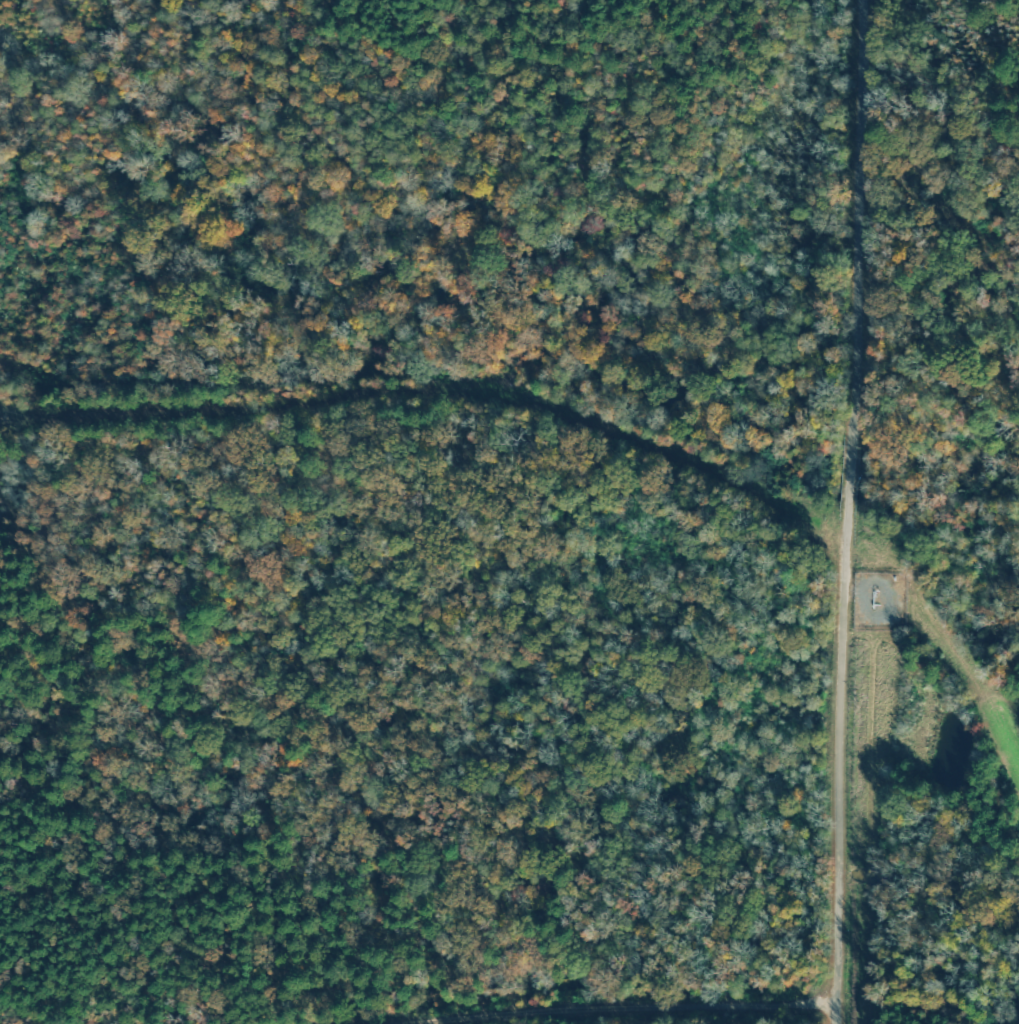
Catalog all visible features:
road: (845, 512)

